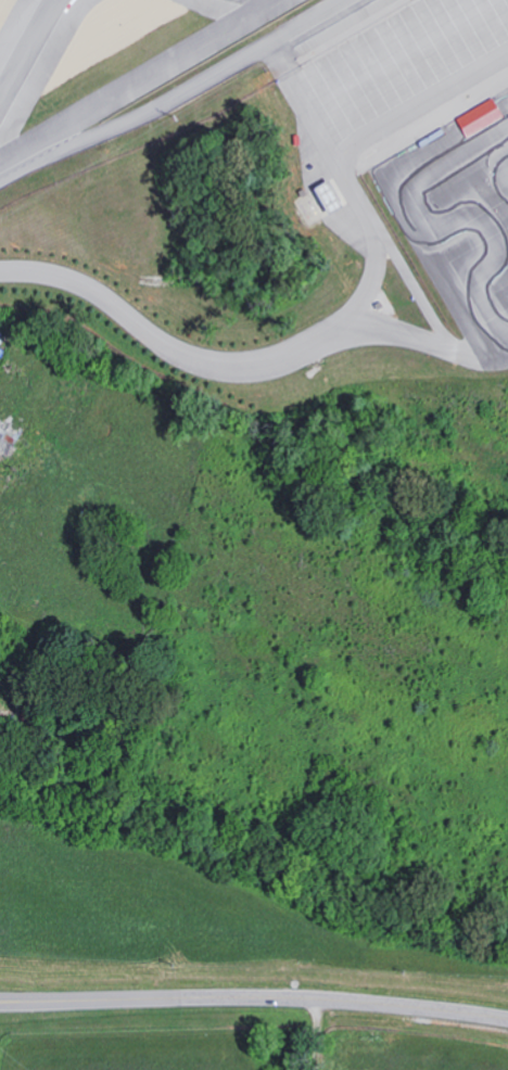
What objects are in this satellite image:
raceway: (25, 44)
parking lot: (403, 58)
raceway: (141, 80)
raceway: (181, 93)
road: (419, 106)
building: (477, 117)
raceway: (501, 176)
road: (344, 182)
gas station: (322, 196)
raceway: (440, 226)
road: (243, 364)
road: (254, 997)

